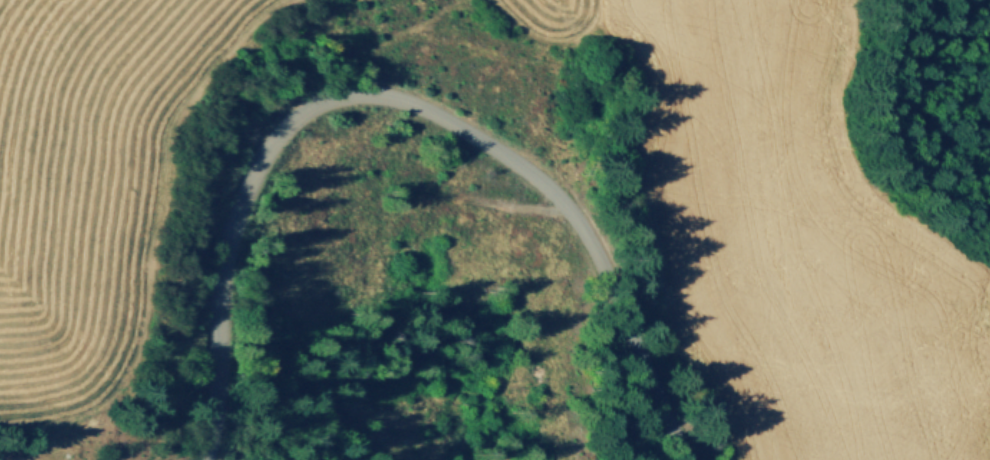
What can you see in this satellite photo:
crop: (542, 17)
road: (405, 103)
crop: (88, 176)
crop: (787, 244)

